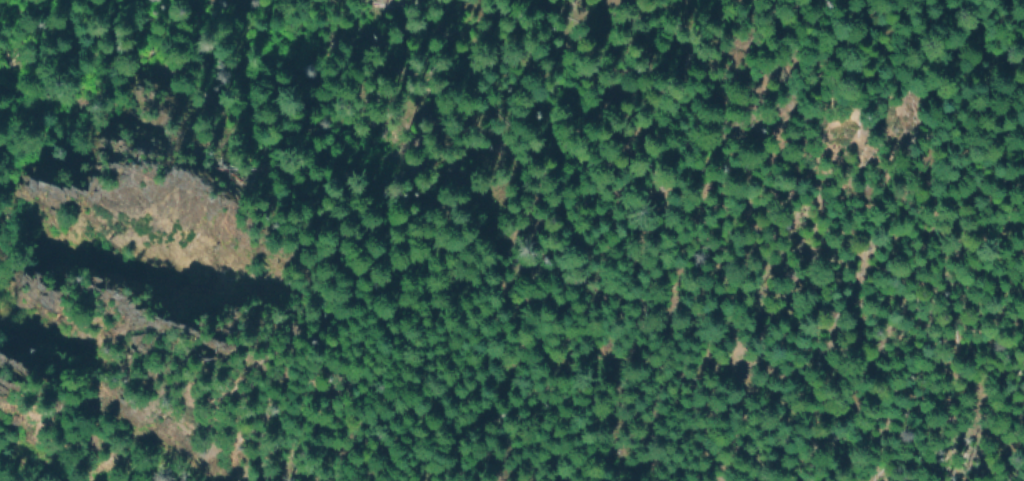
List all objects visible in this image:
road: (626, 305)

